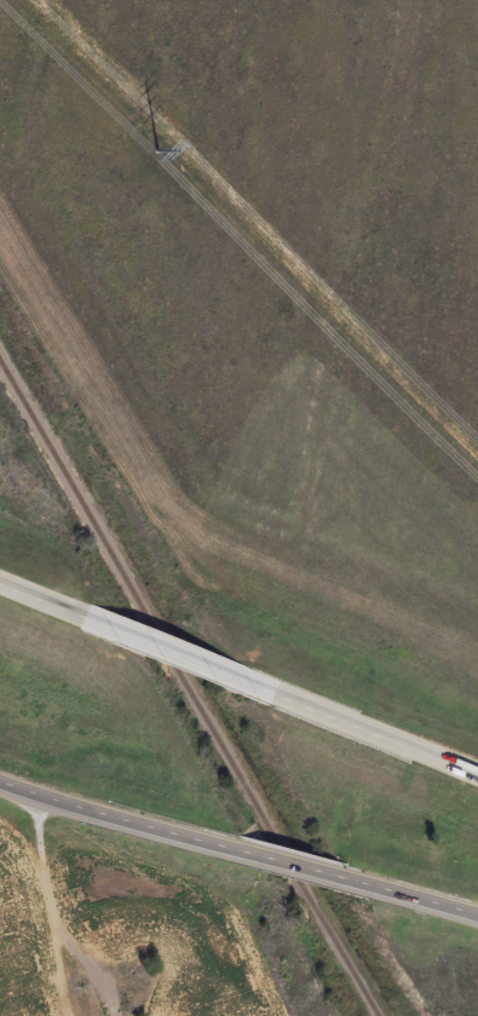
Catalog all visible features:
power tower: (159, 149)
road: (43, 599)
road: (182, 655)
railway: (188, 686)
road: (377, 734)
road: (117, 816)
road: (300, 865)
road: (422, 899)

